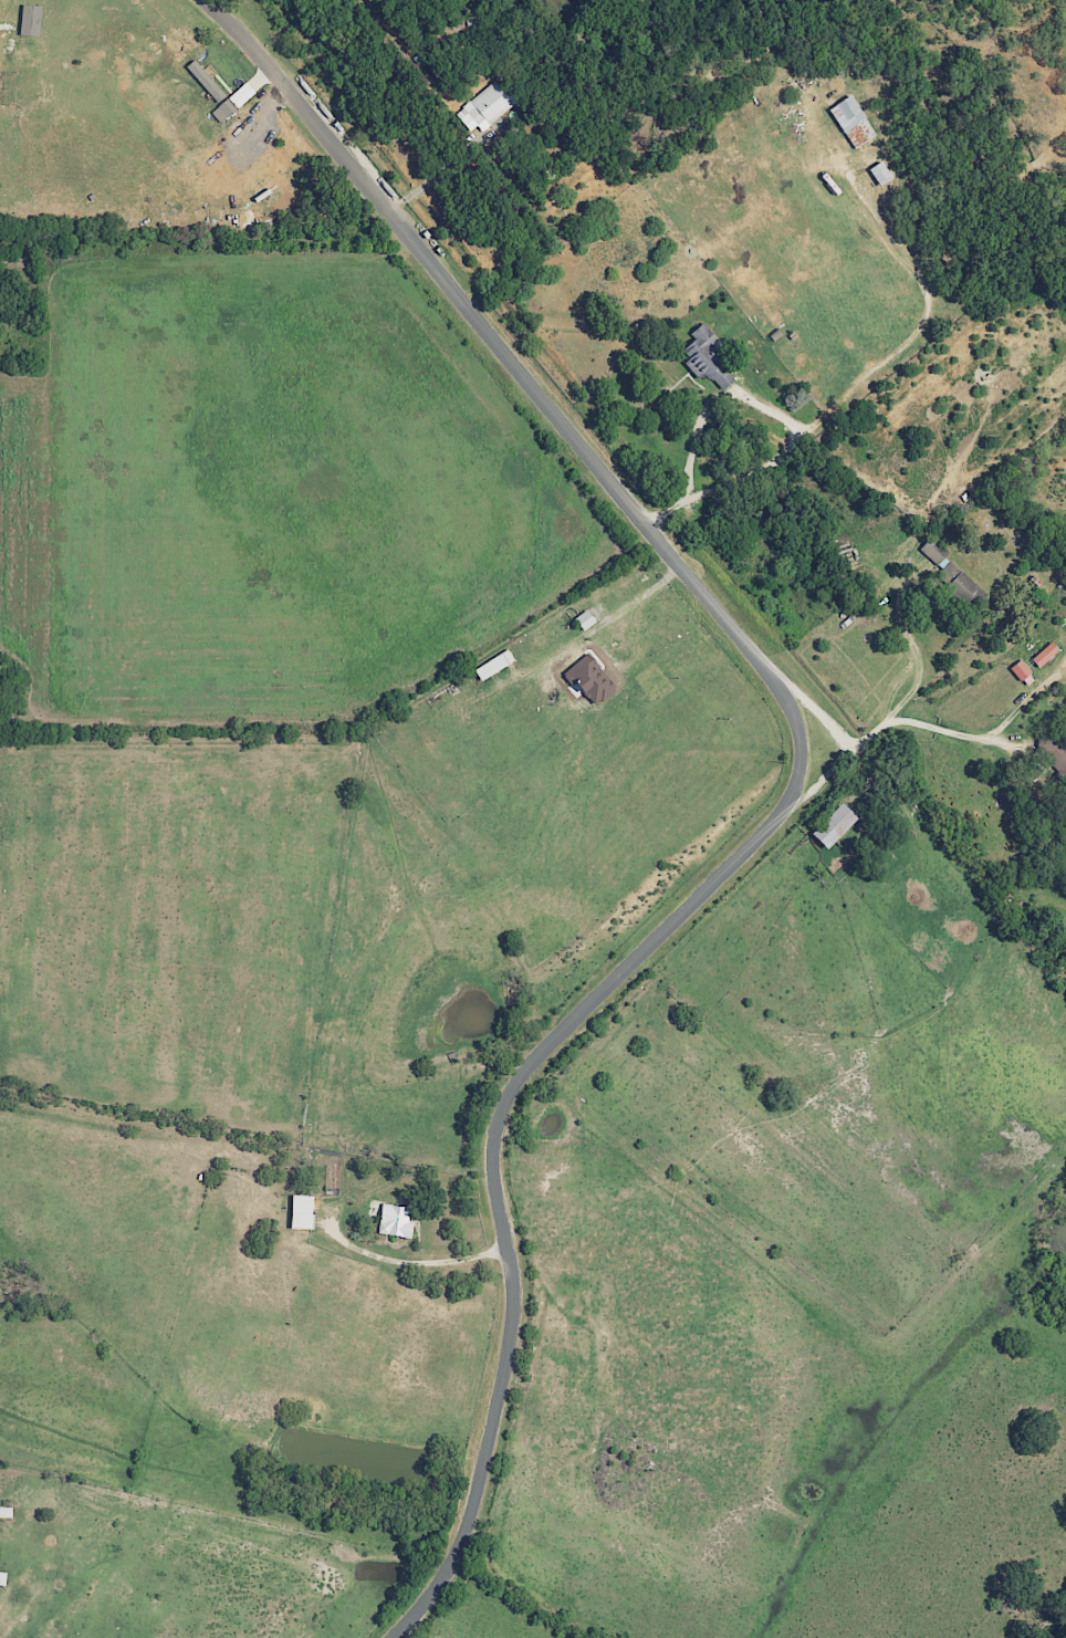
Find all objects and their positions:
building: (206, 80)
building: (232, 102)
building: (485, 107)
building: (853, 122)
building: (881, 173)
building: (708, 357)
road: (763, 469)
building: (585, 619)
building: (1046, 654)
building: (1023, 674)
building: (591, 680)
road: (812, 708)
road: (893, 710)
road: (952, 733)
road: (795, 787)
building: (834, 825)
building: (301, 1211)
building: (395, 1221)
road: (456, 1261)
building: (6, 1512)
building: (2, 1578)

